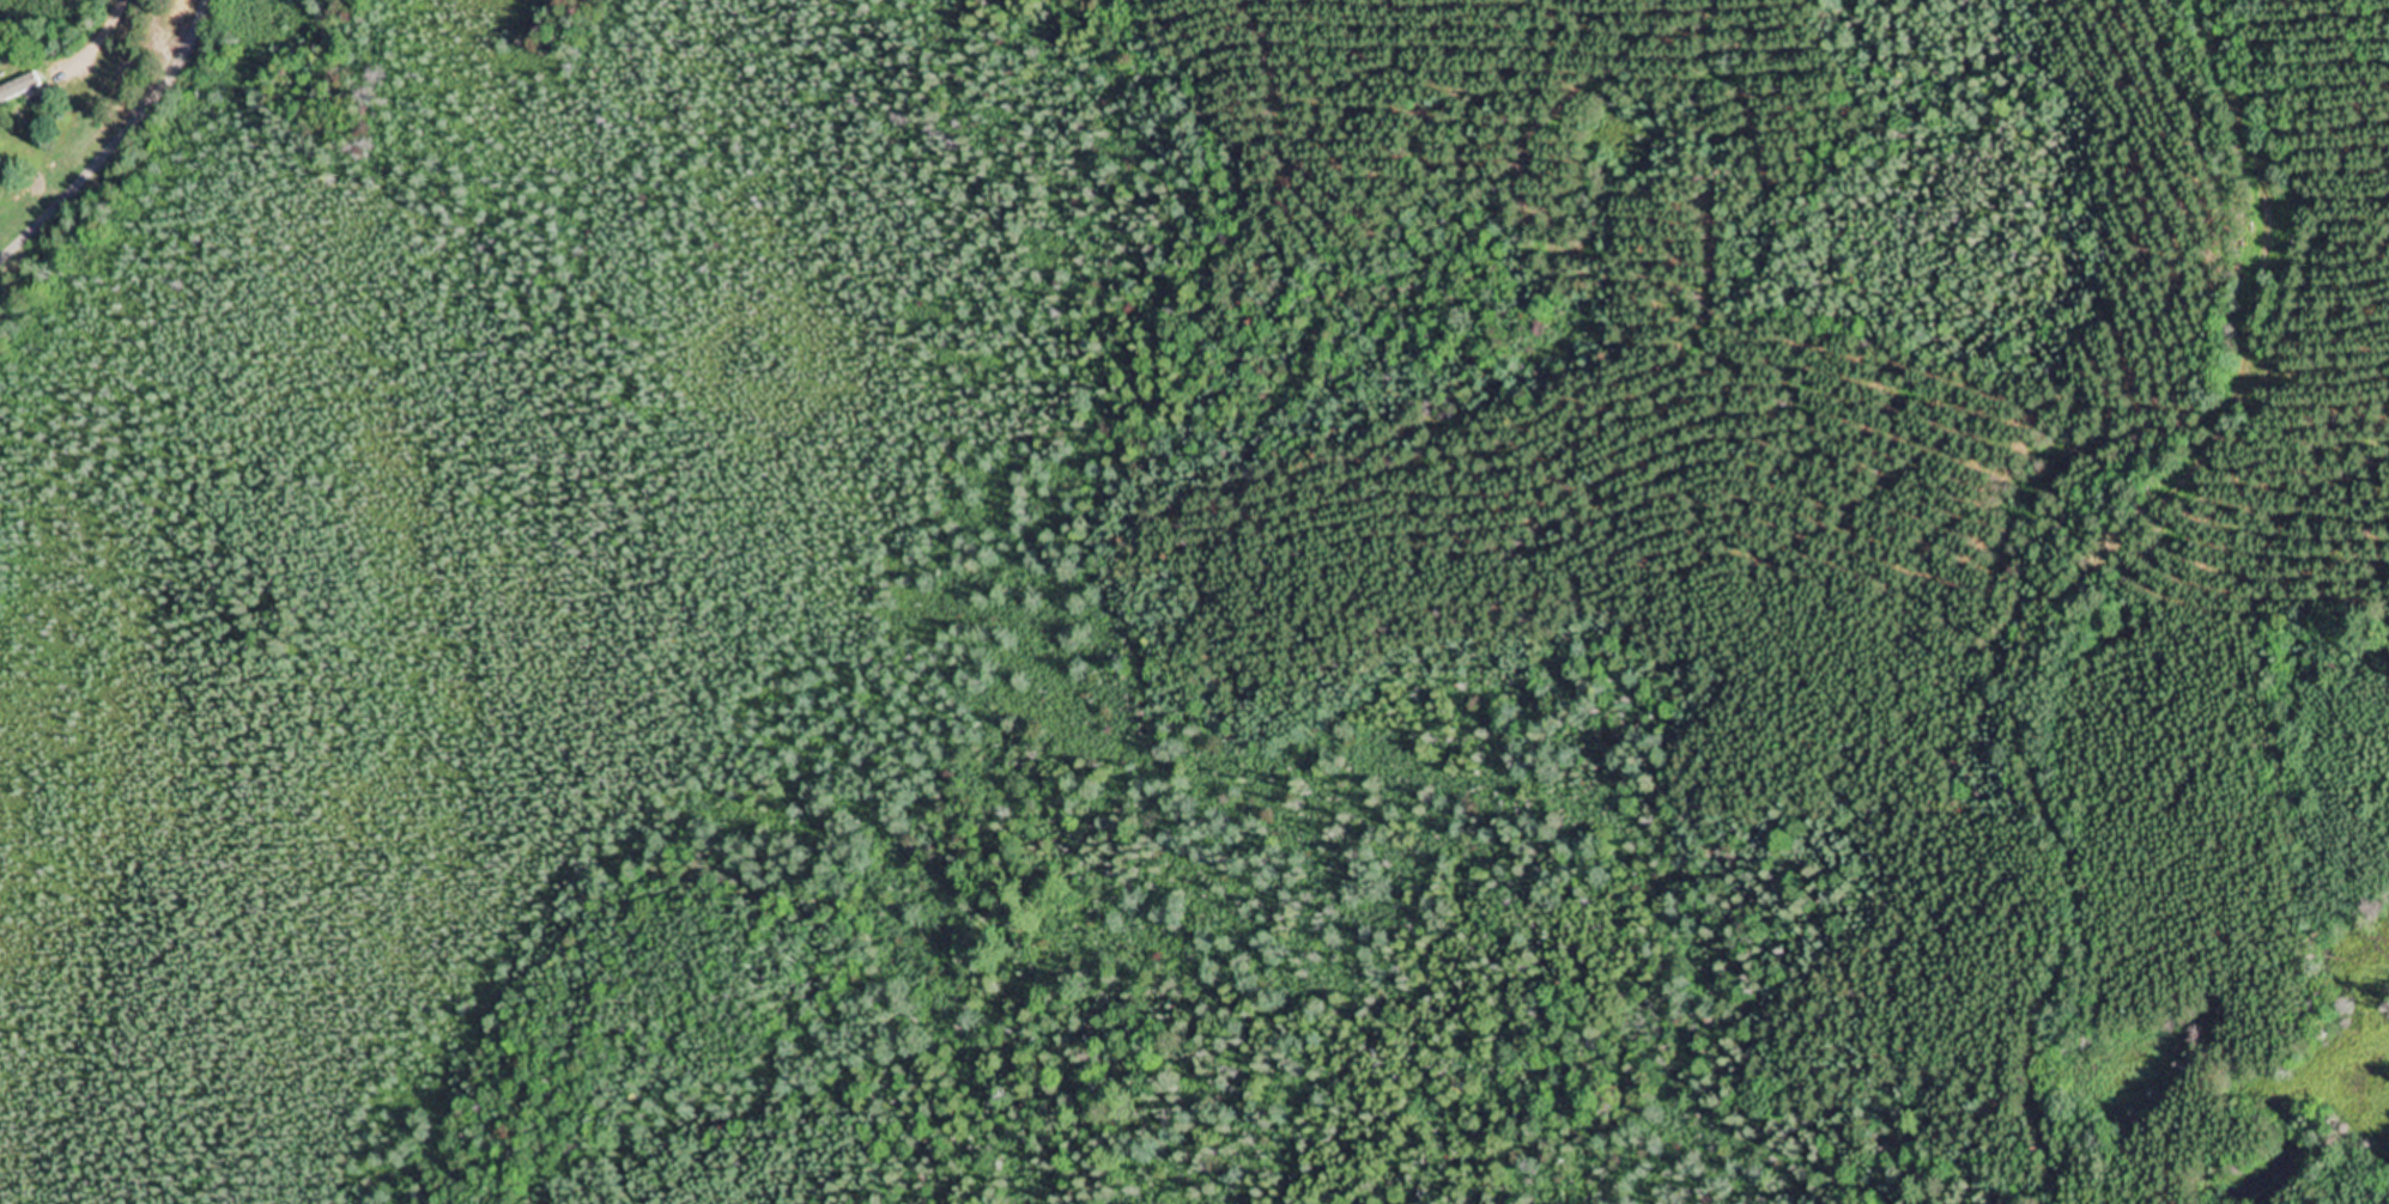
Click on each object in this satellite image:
building: (18, 89)

